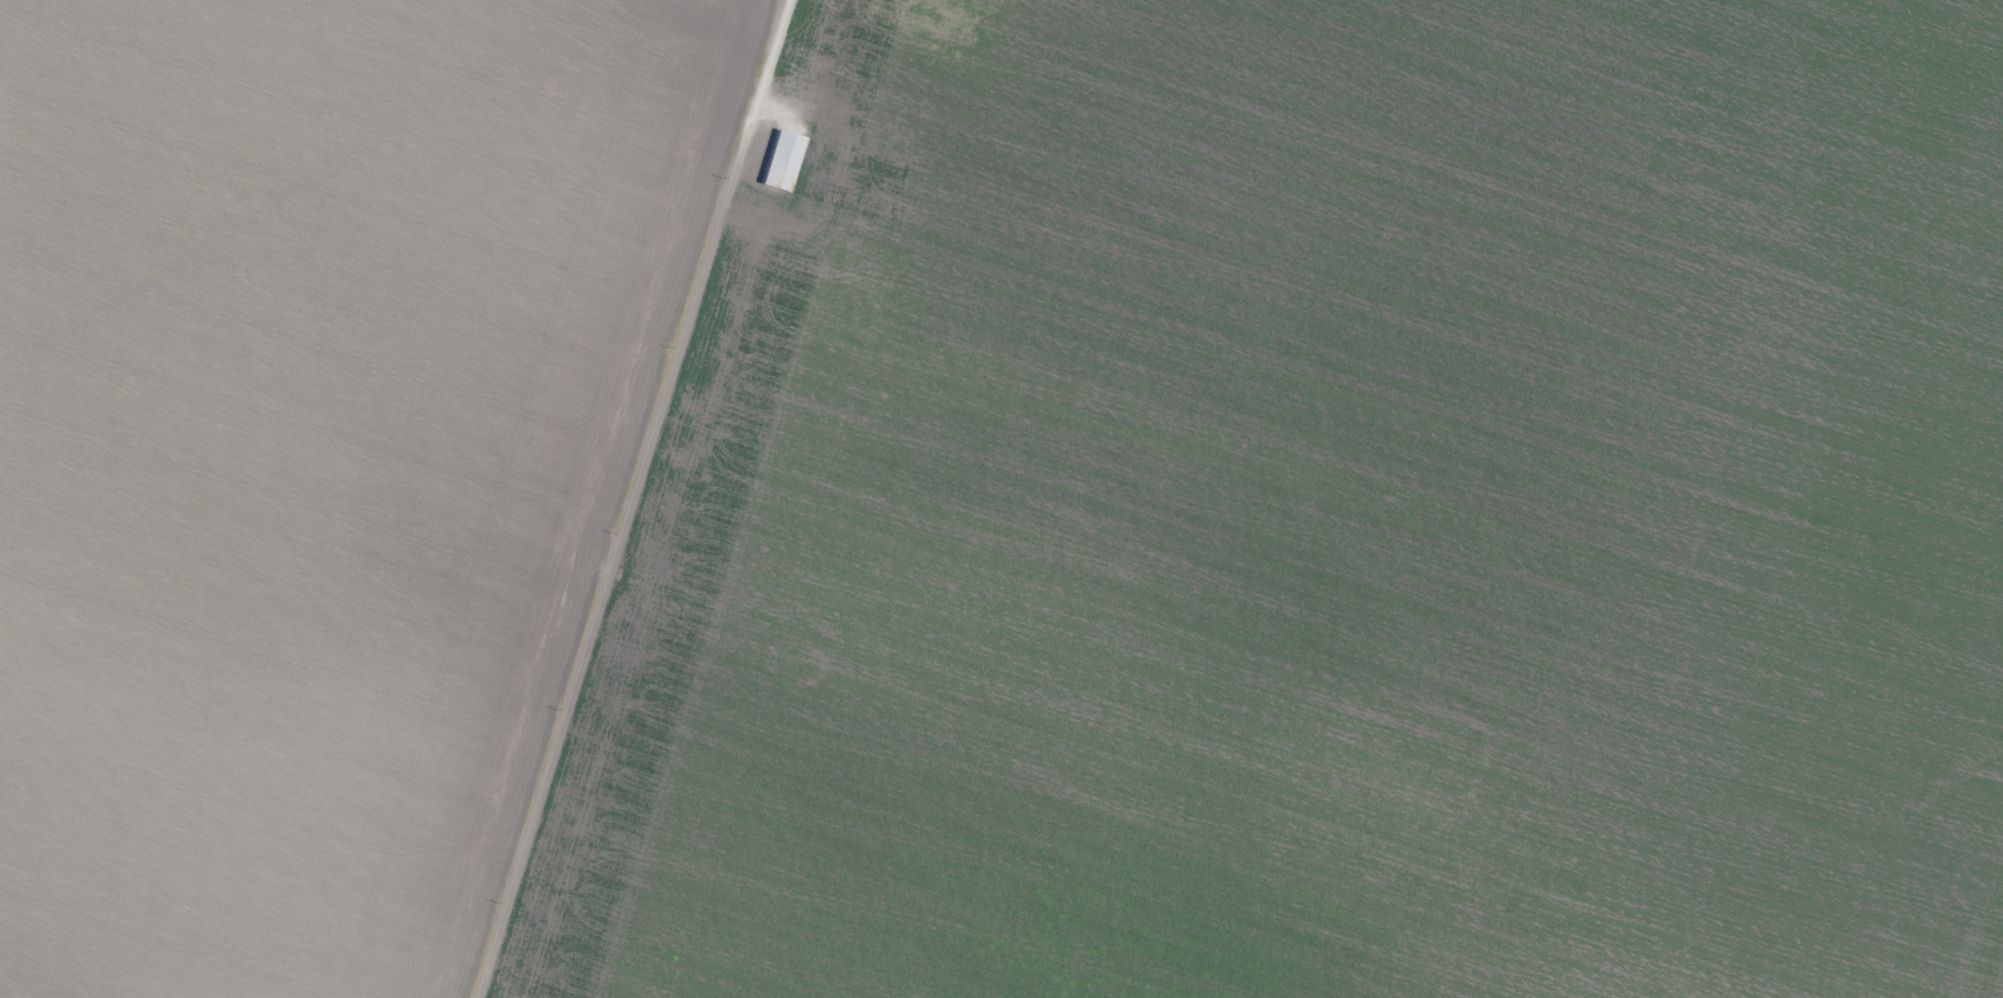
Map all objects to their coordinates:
building: (780, 162)
road: (630, 499)

